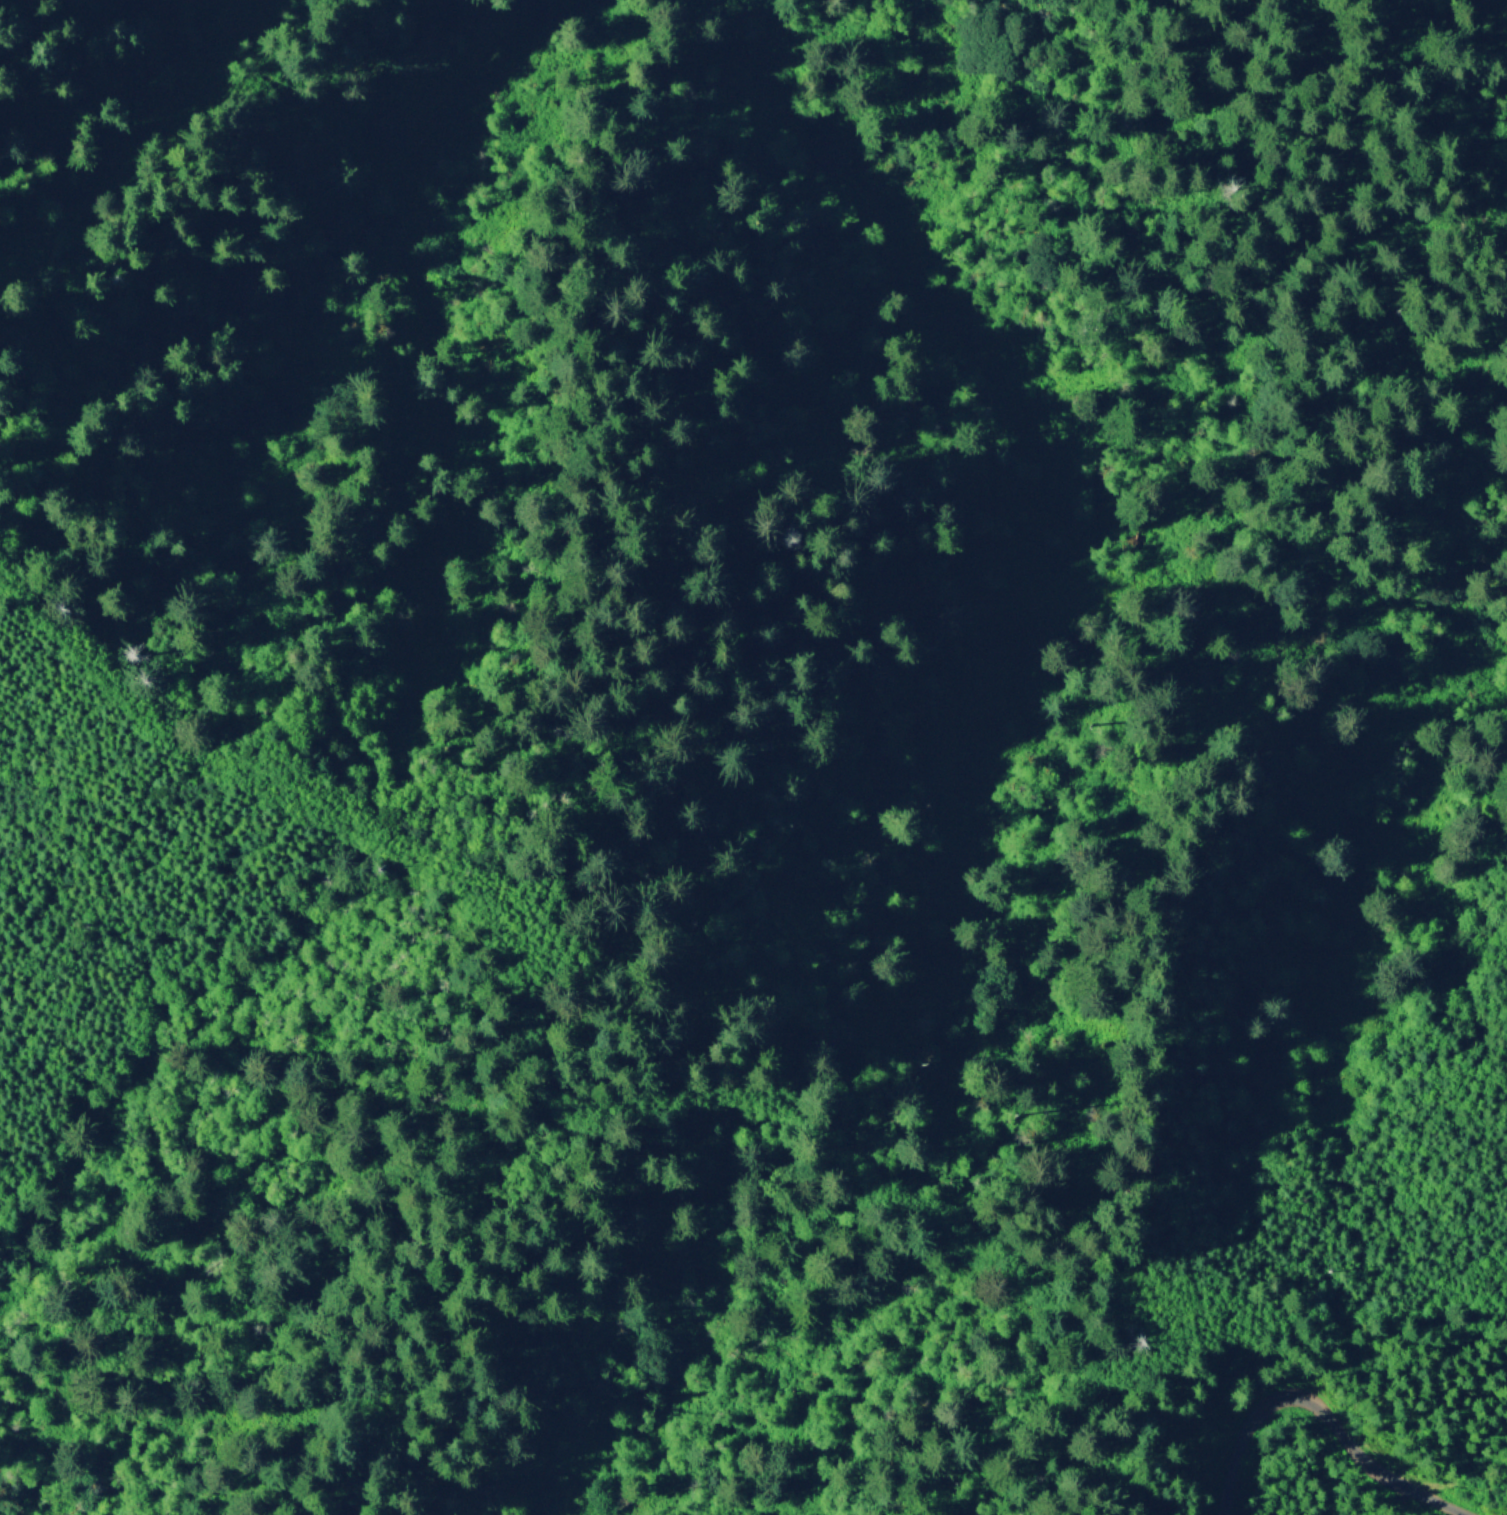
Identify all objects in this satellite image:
road: (1274, 1306)
road: (1319, 1412)
road: (1506, 1514)

